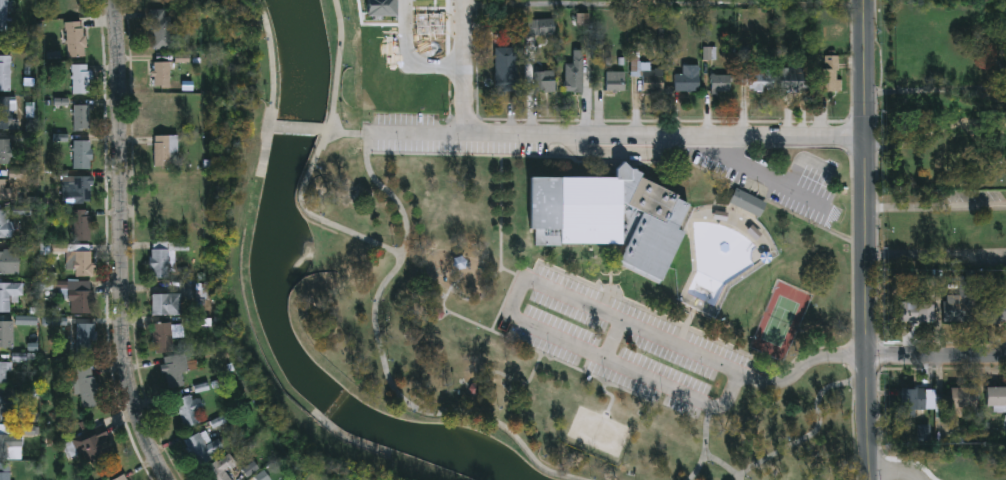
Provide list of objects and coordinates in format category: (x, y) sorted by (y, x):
building: (74, 6)
building: (378, 8)
building: (4, 13)
building: (427, 24)
building: (161, 27)
building: (541, 27)
building: (75, 37)
road: (410, 57)
road: (465, 67)
building: (505, 68)
building: (6, 71)
building: (162, 72)
building: (575, 72)
building: (830, 72)
building: (81, 77)
building: (545, 77)
building: (652, 77)
building: (688, 78)
building: (616, 80)
building: (760, 80)
building: (792, 80)
building: (721, 83)
road: (984, 86)
road: (276, 89)
road: (915, 90)
road: (984, 95)
building: (164, 109)
building: (6, 110)
building: (81, 115)
road: (275, 130)
road: (299, 131)
road: (345, 133)
road: (666, 134)
road: (417, 135)
parking lot: (435, 137)
building: (5, 149)
building: (165, 149)
building: (82, 153)
road: (315, 158)
road: (803, 160)
road: (628, 162)
road: (765, 176)
building: (82, 188)
building: (4, 189)
building: (172, 190)
building: (748, 201)
road: (937, 208)
building: (610, 215)
building: (5, 222)
building: (82, 224)
road: (868, 240)
road: (123, 243)
building: (163, 256)
road: (937, 256)
building: (9, 261)
building: (82, 262)
road: (511, 273)
park: (538, 290)
road: (553, 292)
road: (606, 292)
road: (612, 292)
building: (9, 293)
building: (80, 295)
building: (166, 303)
building: (956, 307)
building: (994, 307)
building: (917, 310)
road: (459, 318)
park: (784, 321)
road: (687, 331)
building: (6, 332)
building: (85, 336)
building: (163, 336)
road: (615, 342)
road: (937, 357)
road: (384, 360)
building: (175, 369)
building: (3, 371)
road: (521, 383)
building: (87, 384)
building: (995, 395)
building: (962, 396)
building: (914, 397)
road: (615, 399)
building: (5, 402)
building: (189, 409)
road: (816, 431)
building: (93, 442)
building: (11, 444)
building: (203, 445)
road: (707, 445)
park: (932, 460)
road: (907, 461)
road: (723, 464)
building: (220, 467)
building: (5, 471)
road: (896, 472)
building: (121, 477)

